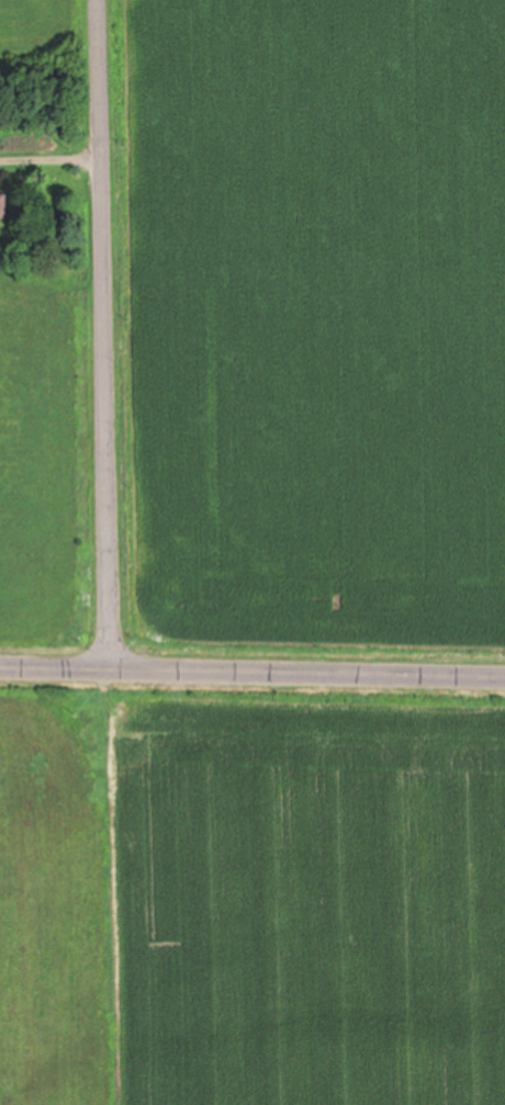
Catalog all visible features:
building: (7, 204)
road: (102, 332)
road: (252, 668)

